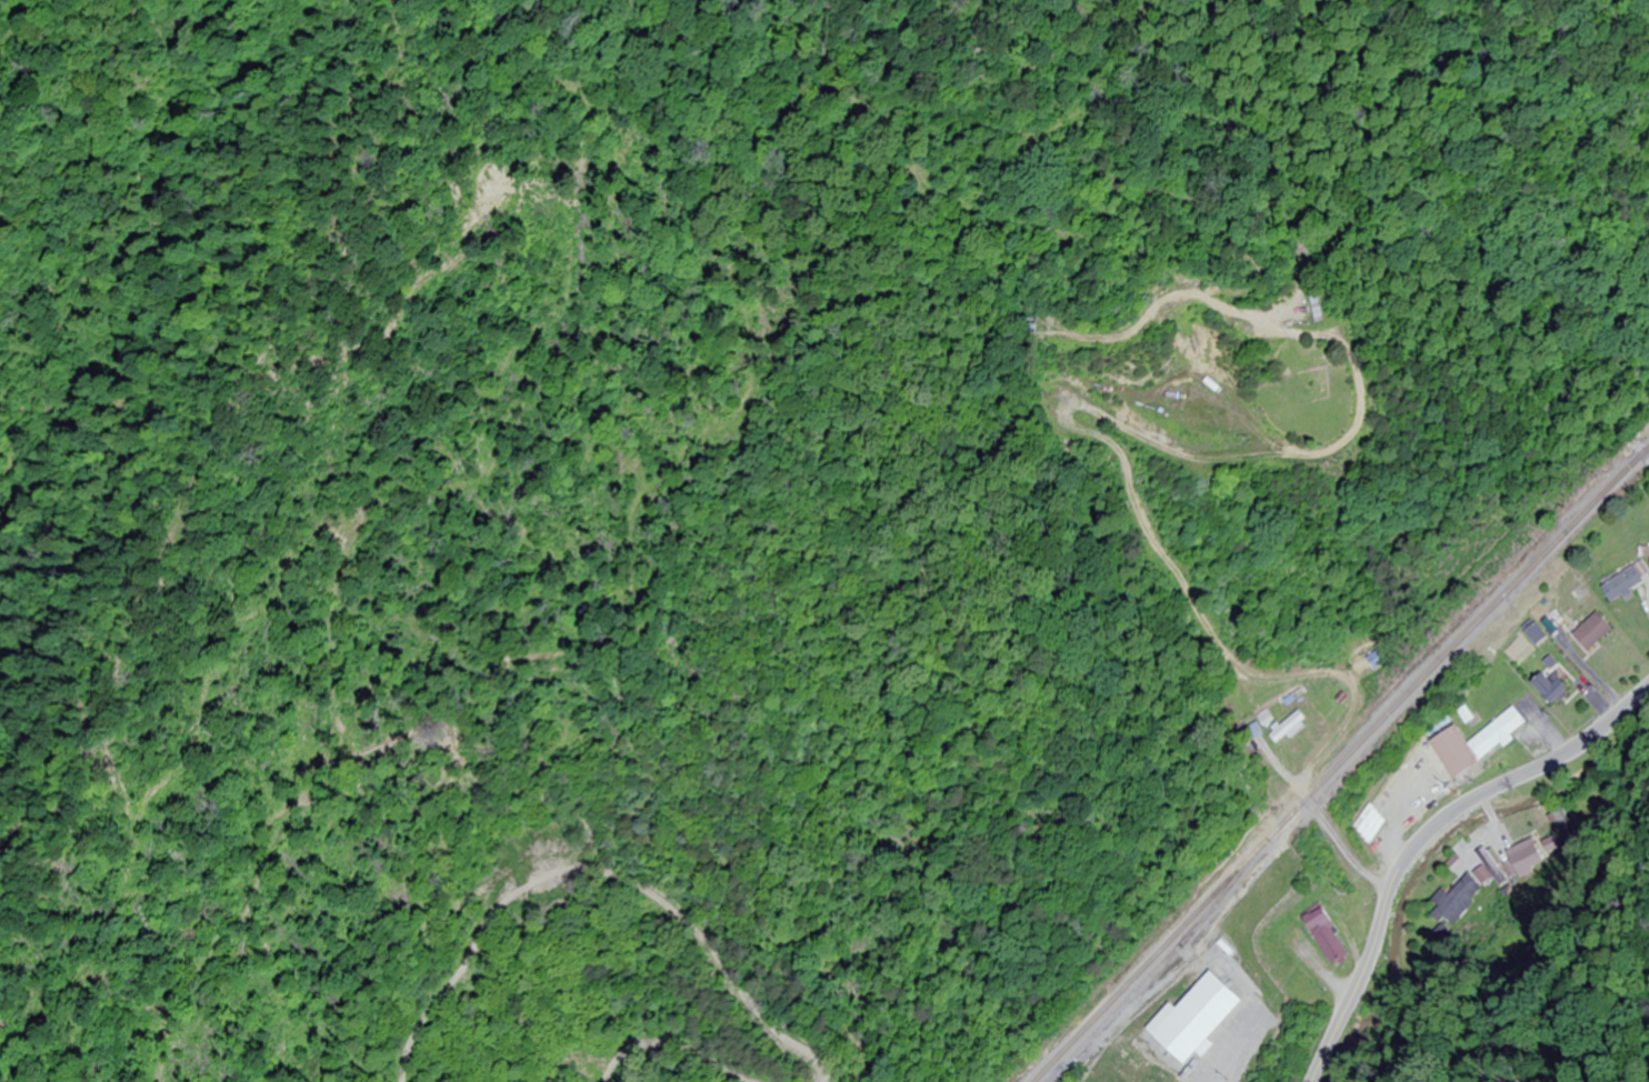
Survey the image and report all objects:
building: (1623, 584)
road: (1582, 632)
building: (1595, 632)
building: (1553, 689)
building: (1292, 728)
building: (1479, 743)
railway: (1341, 767)
road: (1421, 833)
building: (1525, 859)
building: (1492, 868)
building: (1453, 900)
building: (1330, 936)
railway: (1149, 976)

